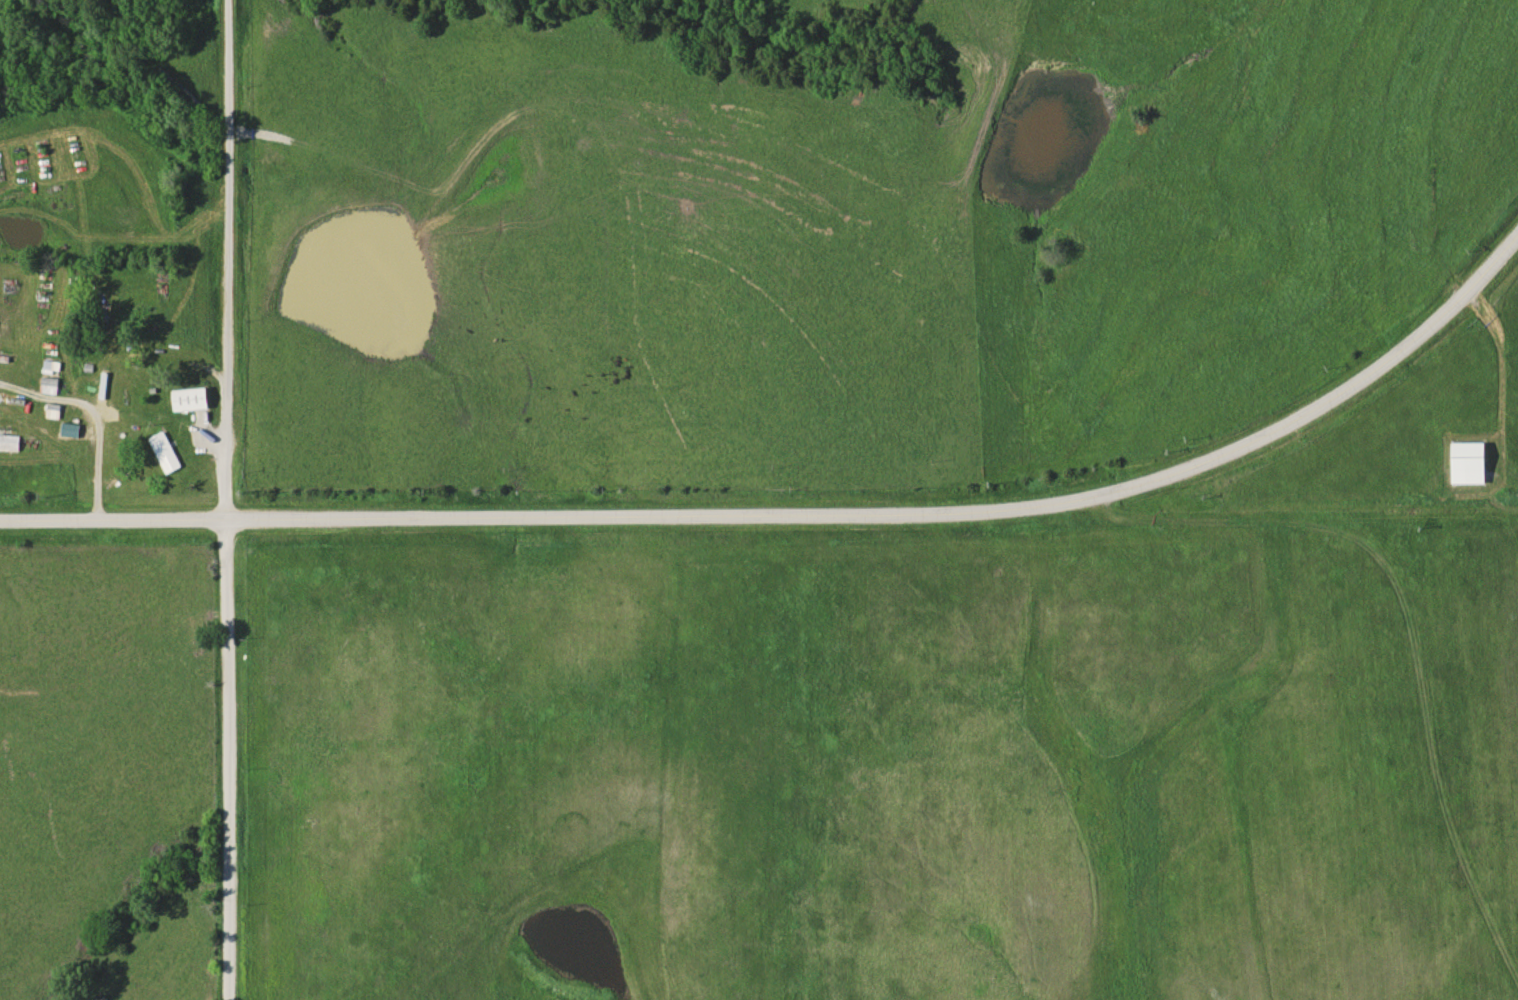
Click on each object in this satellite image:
road: (227, 259)
building: (49, 376)
building: (186, 399)
building: (8, 440)
building: (163, 452)
road: (803, 515)
road: (231, 759)

